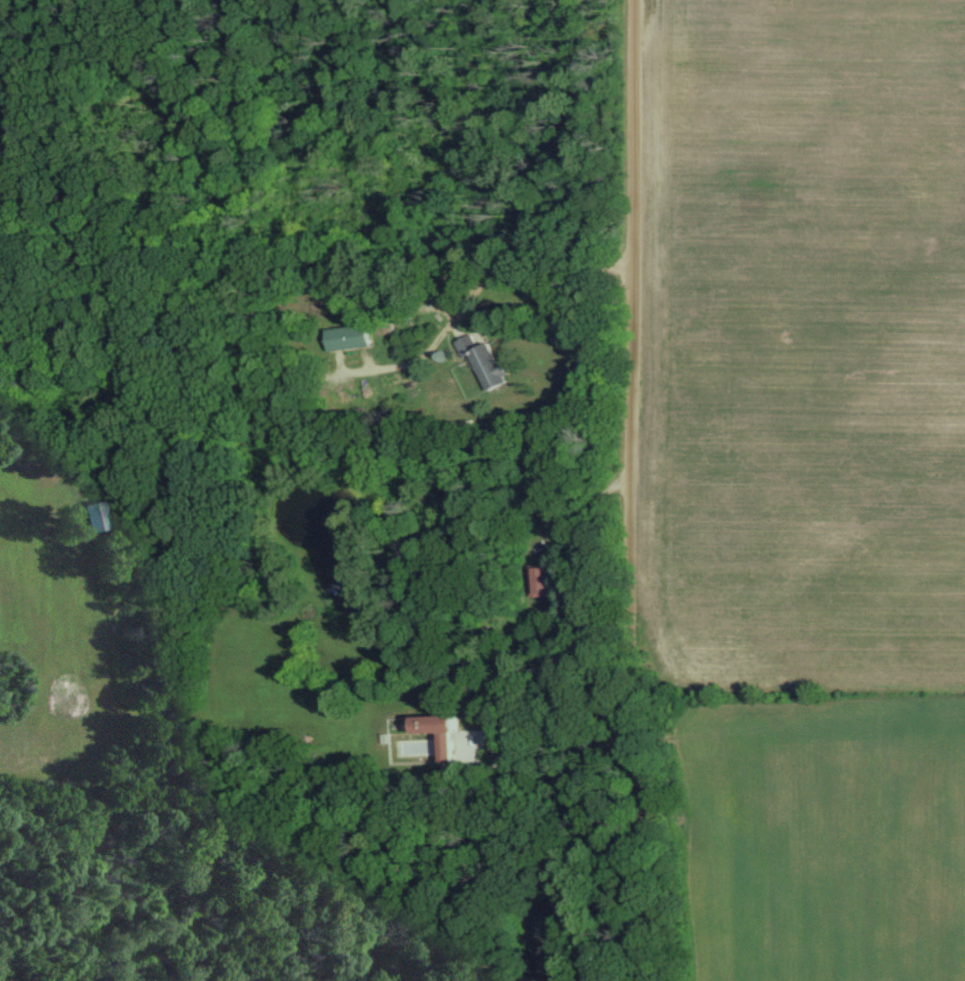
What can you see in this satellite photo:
road: (539, 266)
building: (353, 336)
building: (491, 361)
road: (639, 490)
road: (595, 510)
building: (547, 579)
road: (570, 737)
building: (506, 744)
building: (452, 745)

